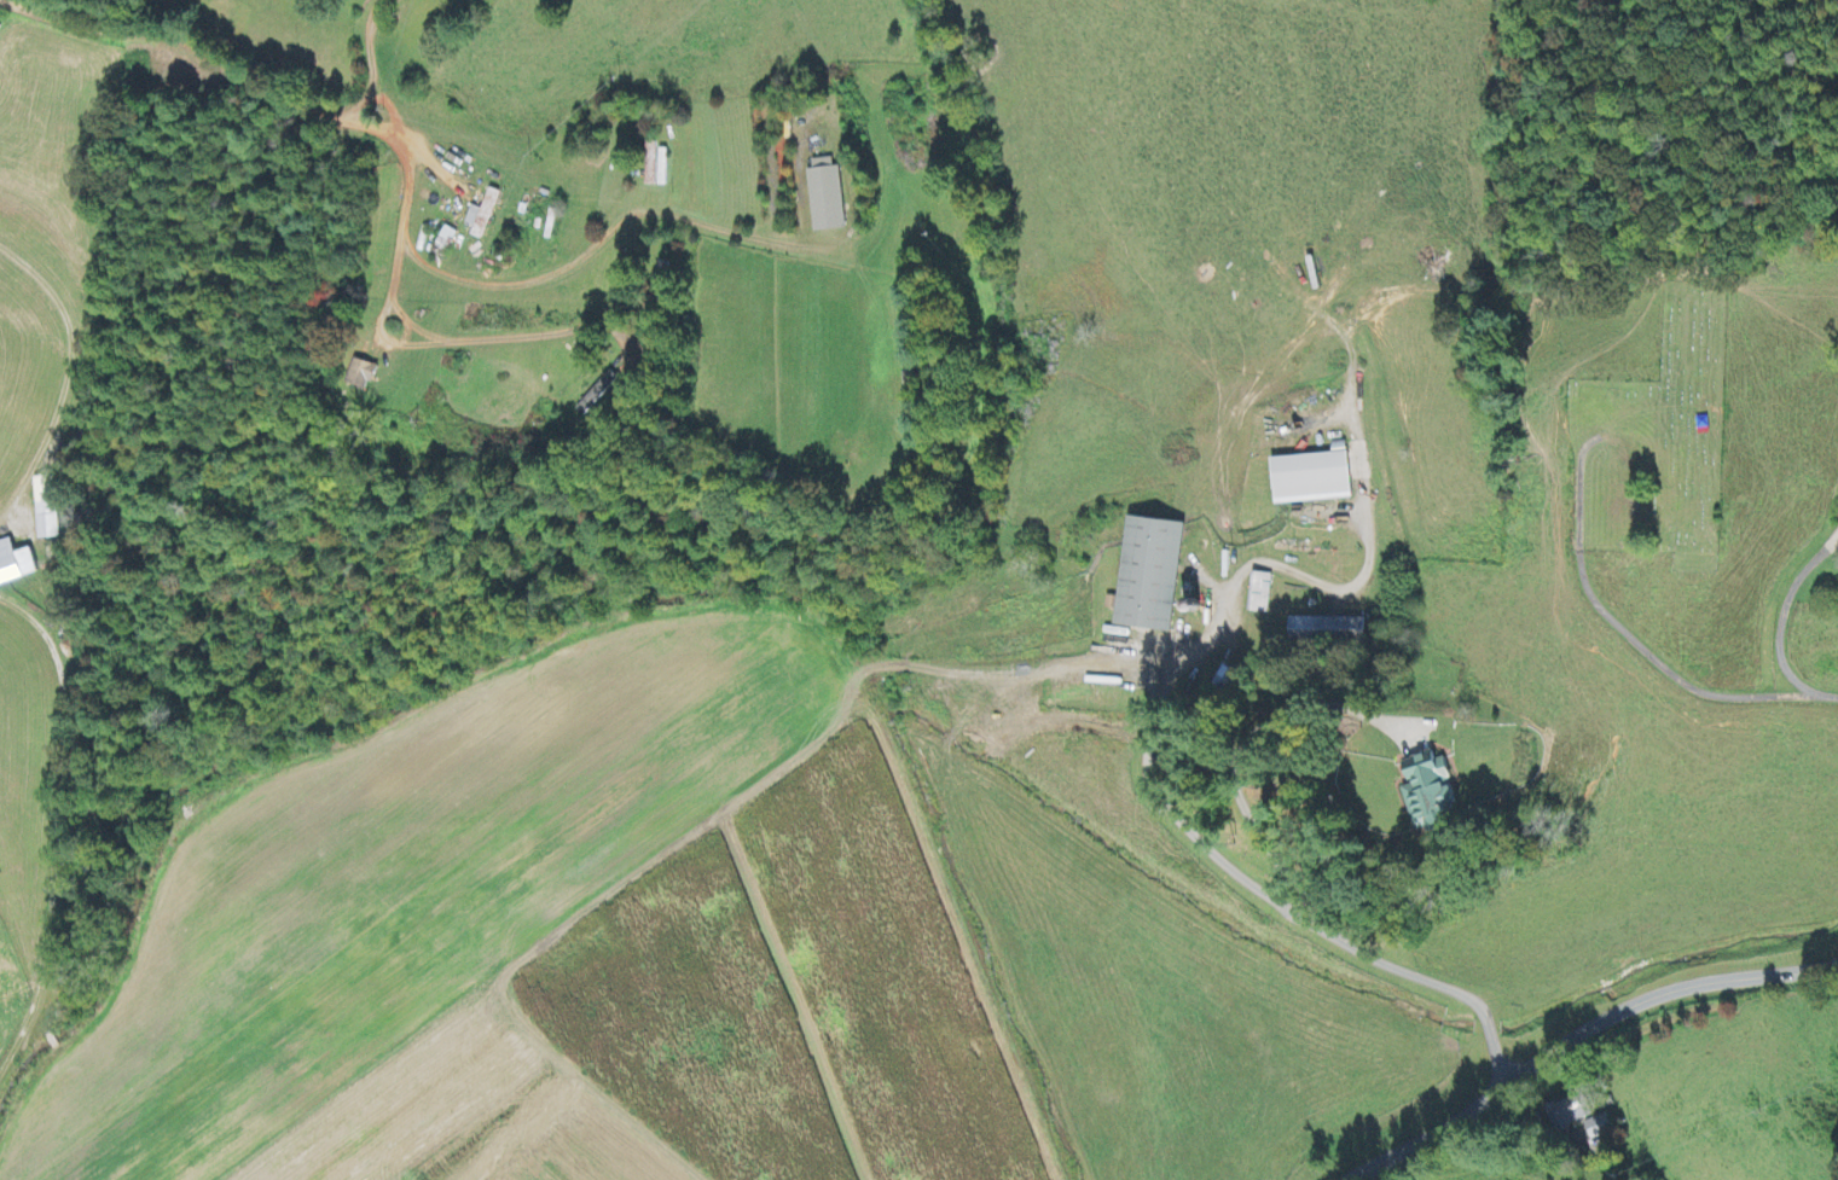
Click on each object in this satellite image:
road: (369, 66)
building: (827, 197)
road: (408, 210)
building: (483, 216)
road: (738, 281)
building: (363, 376)
park: (1656, 437)
building: (1315, 481)
building: (47, 510)
building: (16, 565)
building: (1154, 577)
building: (1262, 594)
building: (1359, 626)
building: (1317, 629)
road: (1630, 634)
building: (1438, 791)
road: (1582, 1030)
building: (1570, 1111)
building: (1599, 1128)

